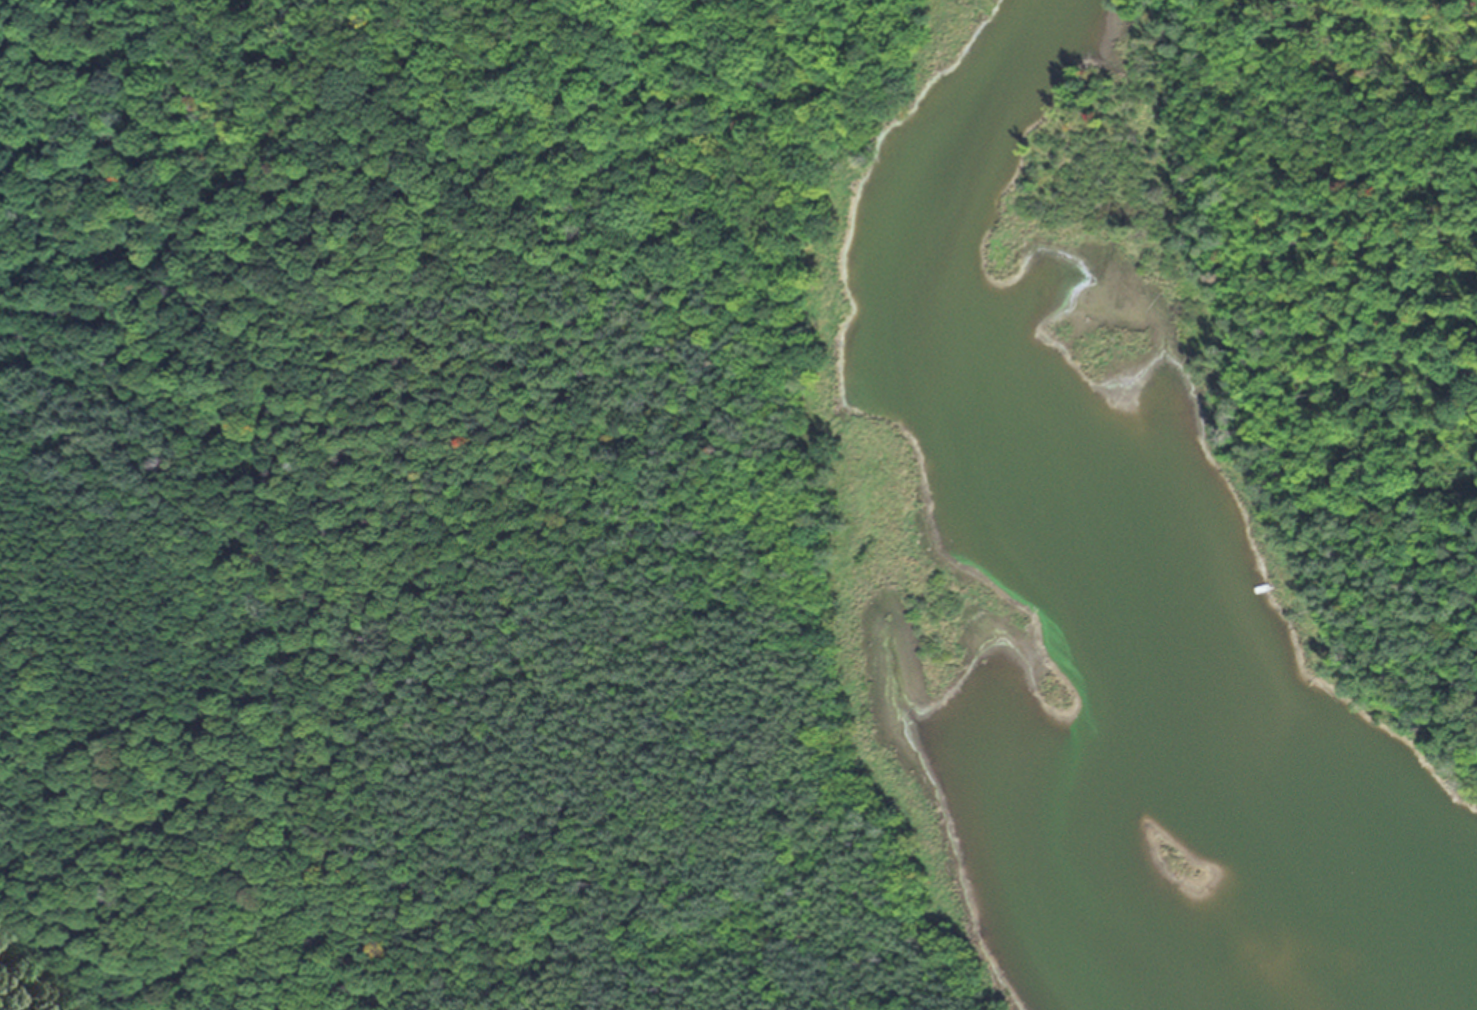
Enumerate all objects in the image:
crop: (0, 2)

